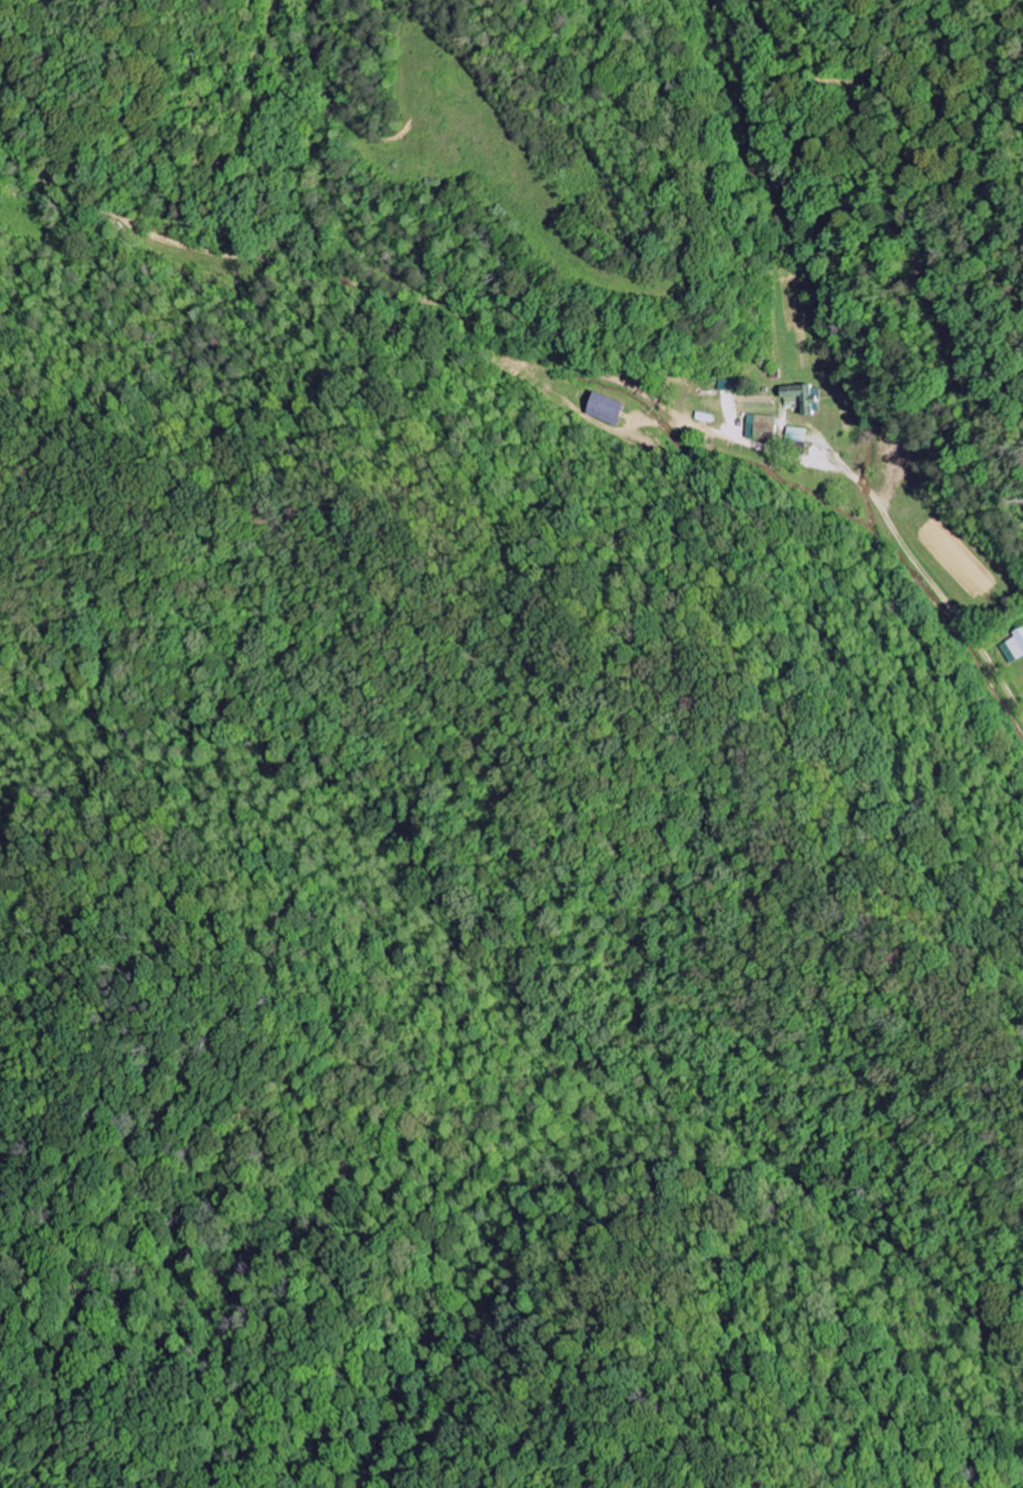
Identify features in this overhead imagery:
road: (765, 137)
building: (727, 384)
building: (803, 397)
building: (603, 408)
building: (798, 433)
road: (881, 506)
building: (1014, 646)

